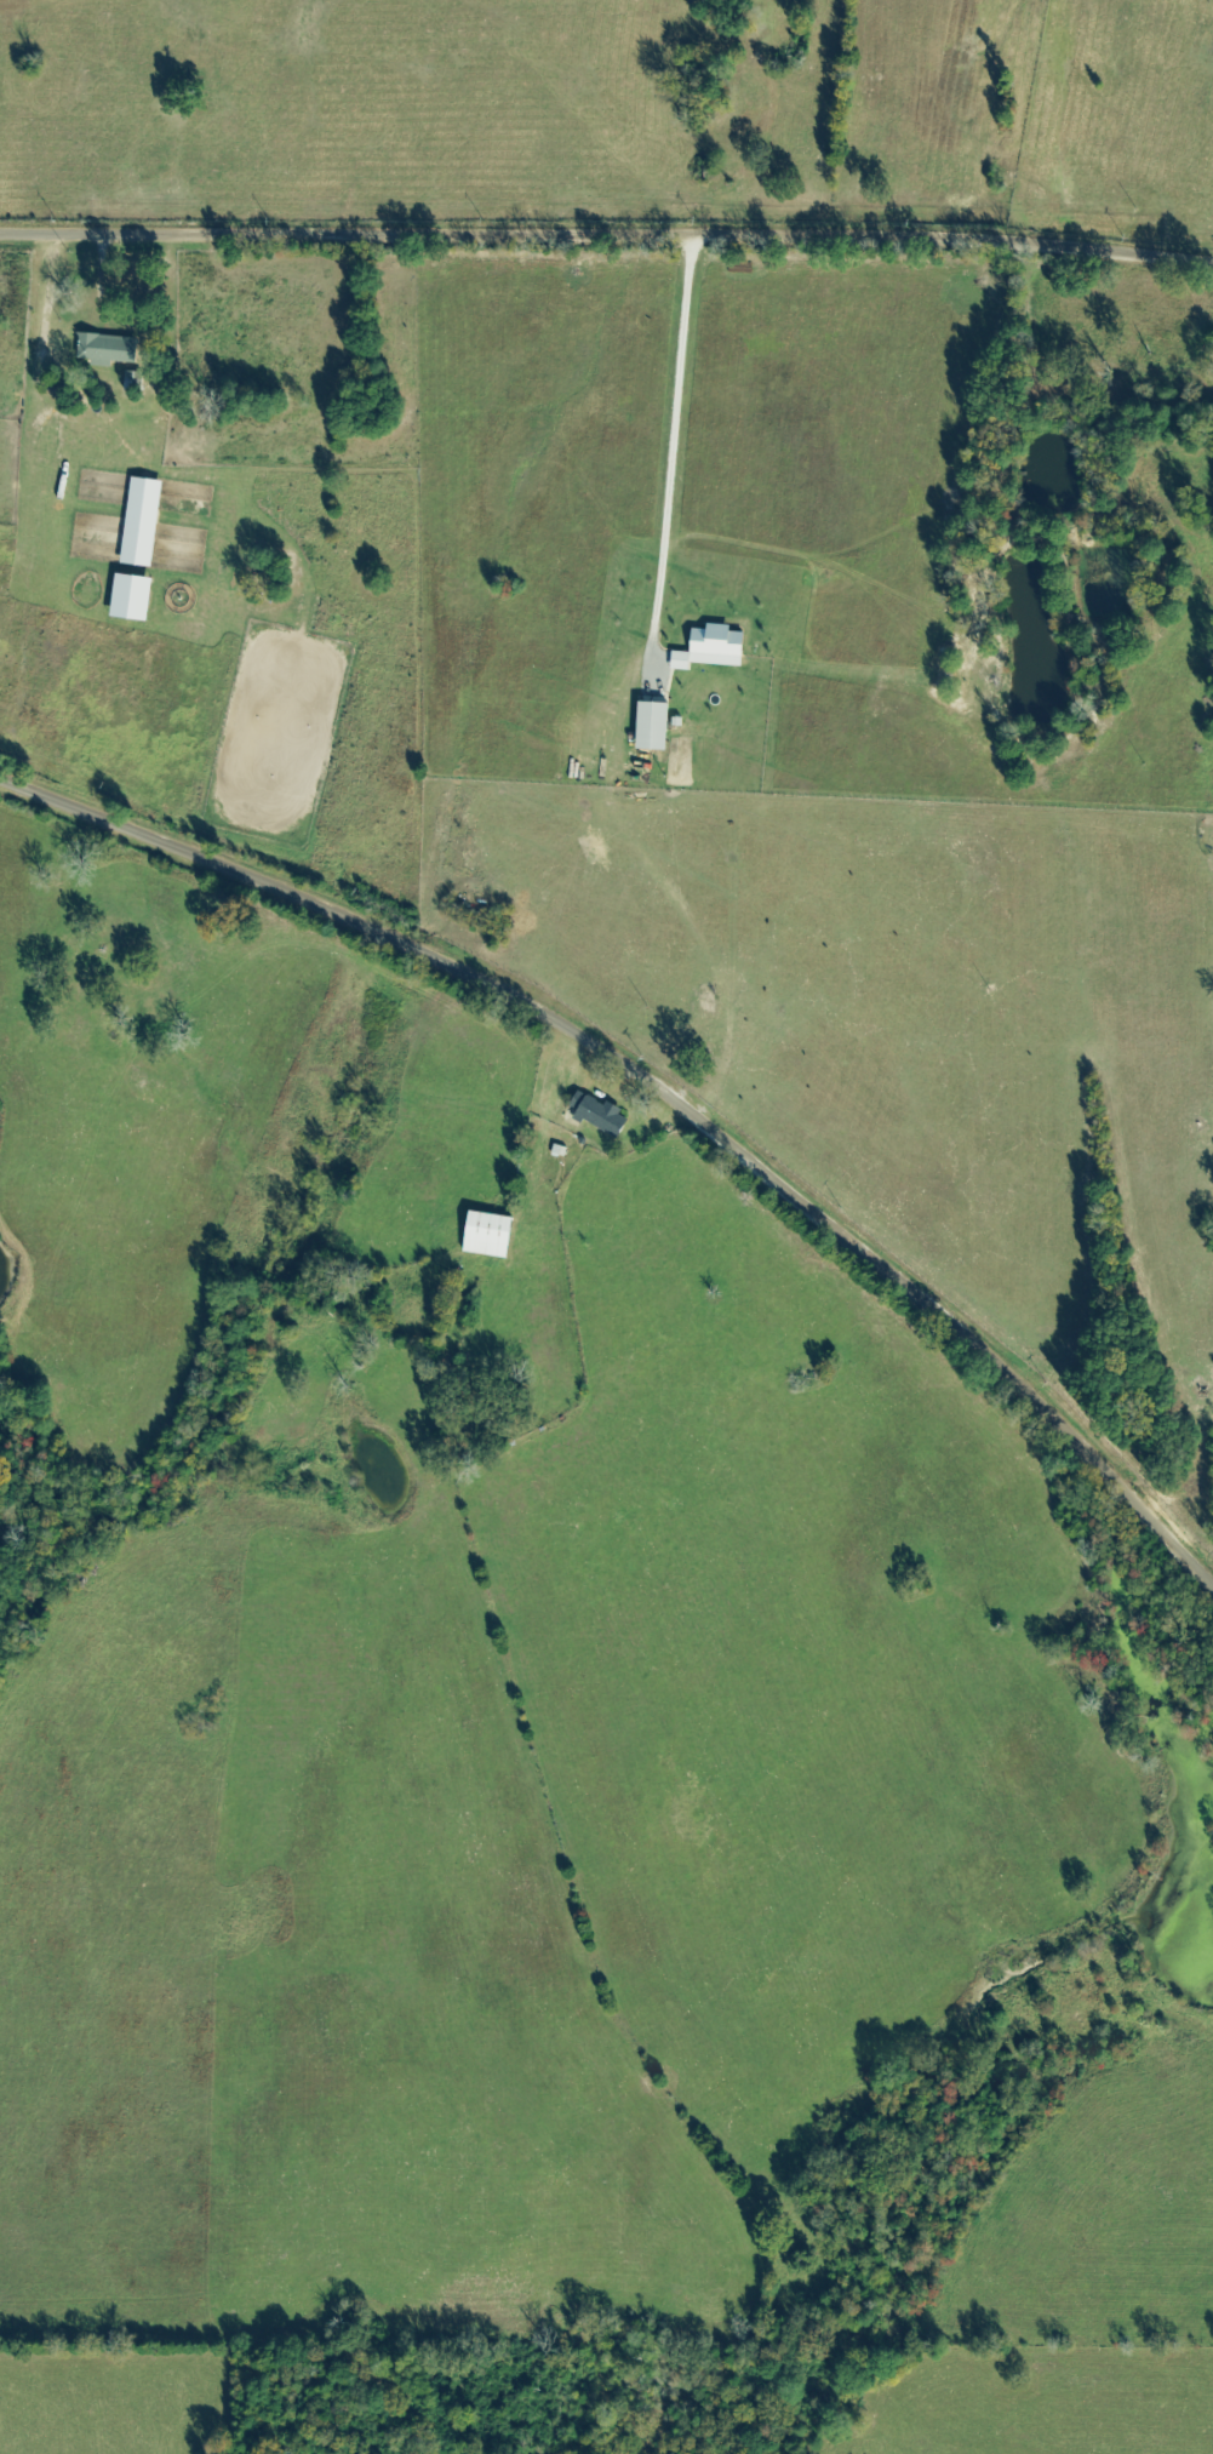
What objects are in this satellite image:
road: (606, 236)
building: (110, 350)
building: (145, 524)
building: (136, 599)
building: (715, 650)
building: (657, 728)
road: (666, 1083)
building: (601, 1116)
building: (493, 1236)

